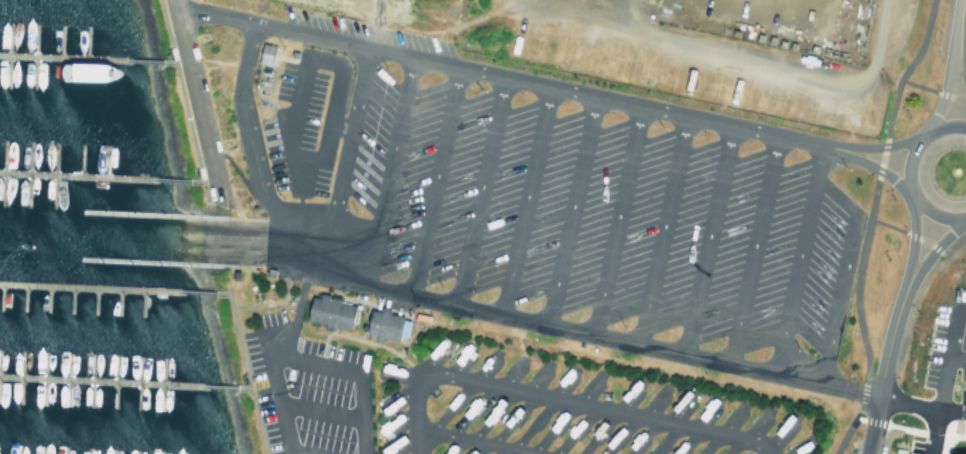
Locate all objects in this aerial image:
road: (957, 26)
building: (260, 53)
pier: (61, 57)
road: (147, 60)
road: (961, 68)
road: (772, 70)
road: (500, 74)
road: (931, 89)
road: (945, 90)
road: (195, 95)
road: (181, 99)
road: (291, 108)
road: (956, 122)
road: (875, 145)
road: (341, 156)
road: (871, 164)
road: (383, 166)
pier: (74, 174)
road: (432, 177)
road: (907, 178)
road: (174, 180)
road: (478, 187)
road: (522, 197)
parking lot: (540, 201)
road: (568, 206)
pier: (150, 213)
road: (611, 216)
road: (965, 216)
road: (178, 226)
road: (865, 226)
road: (659, 227)
road: (704, 236)
road: (912, 236)
road: (179, 239)
road: (921, 239)
road: (933, 245)
road: (751, 247)
road: (182, 252)
road: (797, 257)
pier: (151, 261)
road: (839, 270)
pier: (87, 287)
road: (201, 291)
road: (461, 300)
building: (324, 311)
road: (956, 356)
road: (240, 359)
road: (310, 360)
parking lot: (943, 362)
road: (882, 365)
road: (942, 377)
pier: (99, 381)
road: (221, 386)
parking lot: (303, 388)
road: (554, 399)
road: (278, 401)
road: (920, 407)
road: (318, 409)
road: (917, 431)
road: (472, 441)
parking lot: (921, 447)
road: (297, 452)

